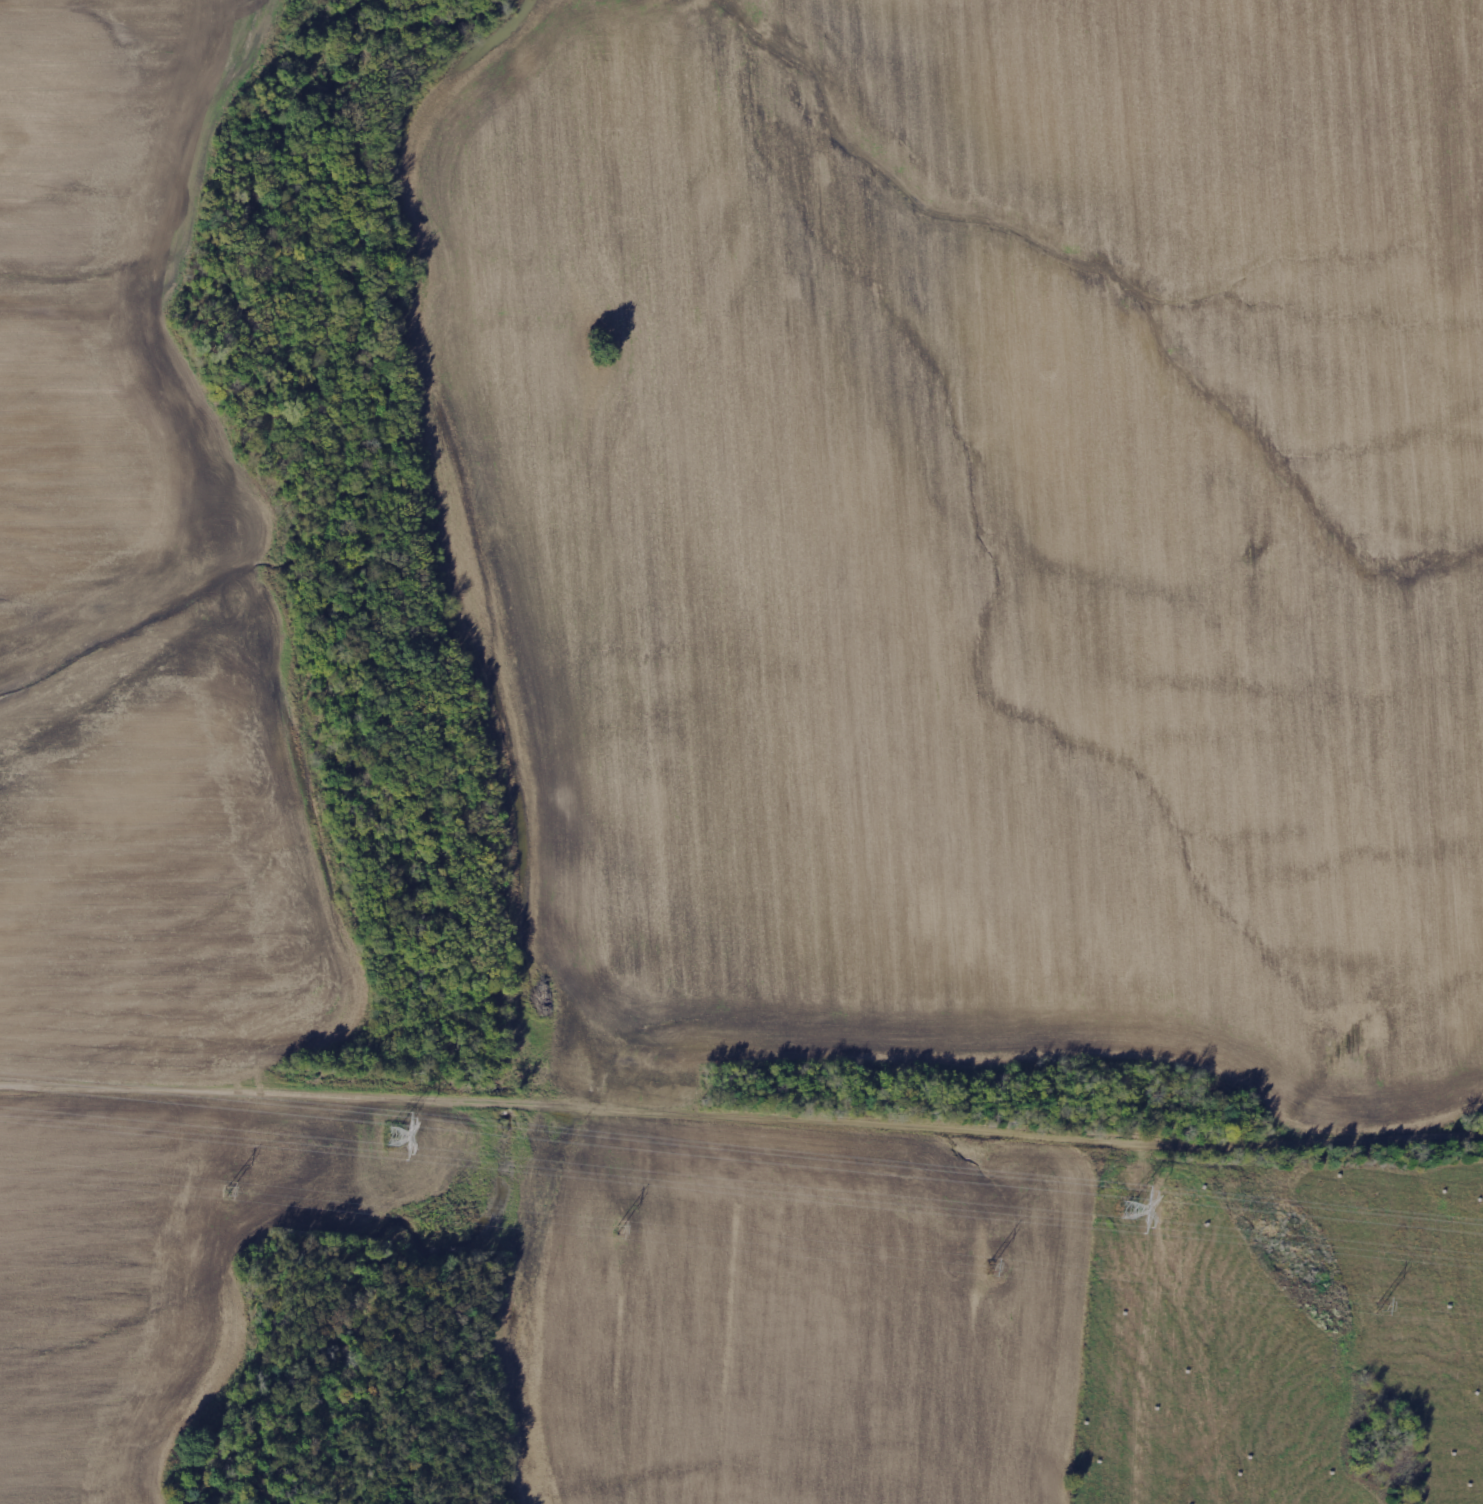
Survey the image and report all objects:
road: (741, 1106)
power tower: (392, 1139)
power tower: (1127, 1213)

